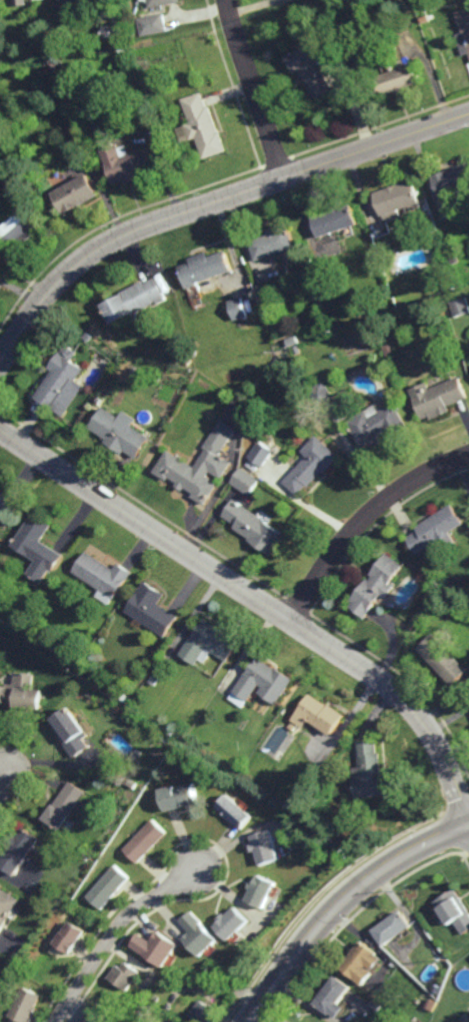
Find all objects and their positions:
building: (66, 0)
building: (20, 2)
building: (156, 2)
building: (151, 25)
building: (463, 30)
building: (111, 32)
building: (39, 43)
building: (76, 63)
building: (54, 65)
building: (310, 70)
building: (398, 78)
building: (142, 80)
road: (253, 89)
building: (95, 126)
building: (201, 126)
building: (124, 163)
building: (453, 181)
building: (75, 193)
building: (396, 199)
building: (467, 201)
road: (211, 204)
building: (427, 205)
building: (335, 220)
building: (22, 228)
building: (271, 243)
building: (455, 257)
building: (203, 268)
building: (132, 301)
building: (264, 303)
building: (460, 307)
building: (237, 309)
building: (87, 338)
building: (388, 350)
building: (187, 361)
building: (290, 363)
building: (187, 377)
building: (60, 383)
building: (320, 393)
building: (438, 397)
building: (376, 427)
building: (118, 434)
building: (260, 455)
building: (311, 466)
building: (198, 467)
building: (244, 482)
building: (7, 504)
road: (362, 518)
building: (254, 526)
building: (435, 529)
building: (40, 545)
building: (101, 573)
building: (376, 585)
road: (260, 600)
building: (150, 607)
building: (41, 623)
building: (209, 642)
building: (442, 659)
building: (154, 679)
building: (264, 681)
building: (22, 691)
building: (125, 697)
building: (319, 714)
building: (71, 731)
building: (370, 770)
road: (8, 774)
building: (133, 783)
building: (179, 796)
building: (64, 805)
building: (235, 810)
building: (145, 839)
building: (266, 847)
building: (18, 850)
building: (108, 886)
building: (262, 890)
road: (340, 903)
building: (7, 907)
building: (454, 910)
building: (232, 923)
building: (392, 928)
road: (114, 932)
building: (199, 934)
building: (70, 938)
building: (156, 948)
building: (359, 959)
building: (125, 975)
building: (122, 996)
building: (333, 996)
building: (376, 997)
building: (431, 1004)
building: (25, 1005)
building: (375, 1005)
building: (205, 1012)
building: (101, 1014)
road: (258, 1019)
building: (422, 1021)

